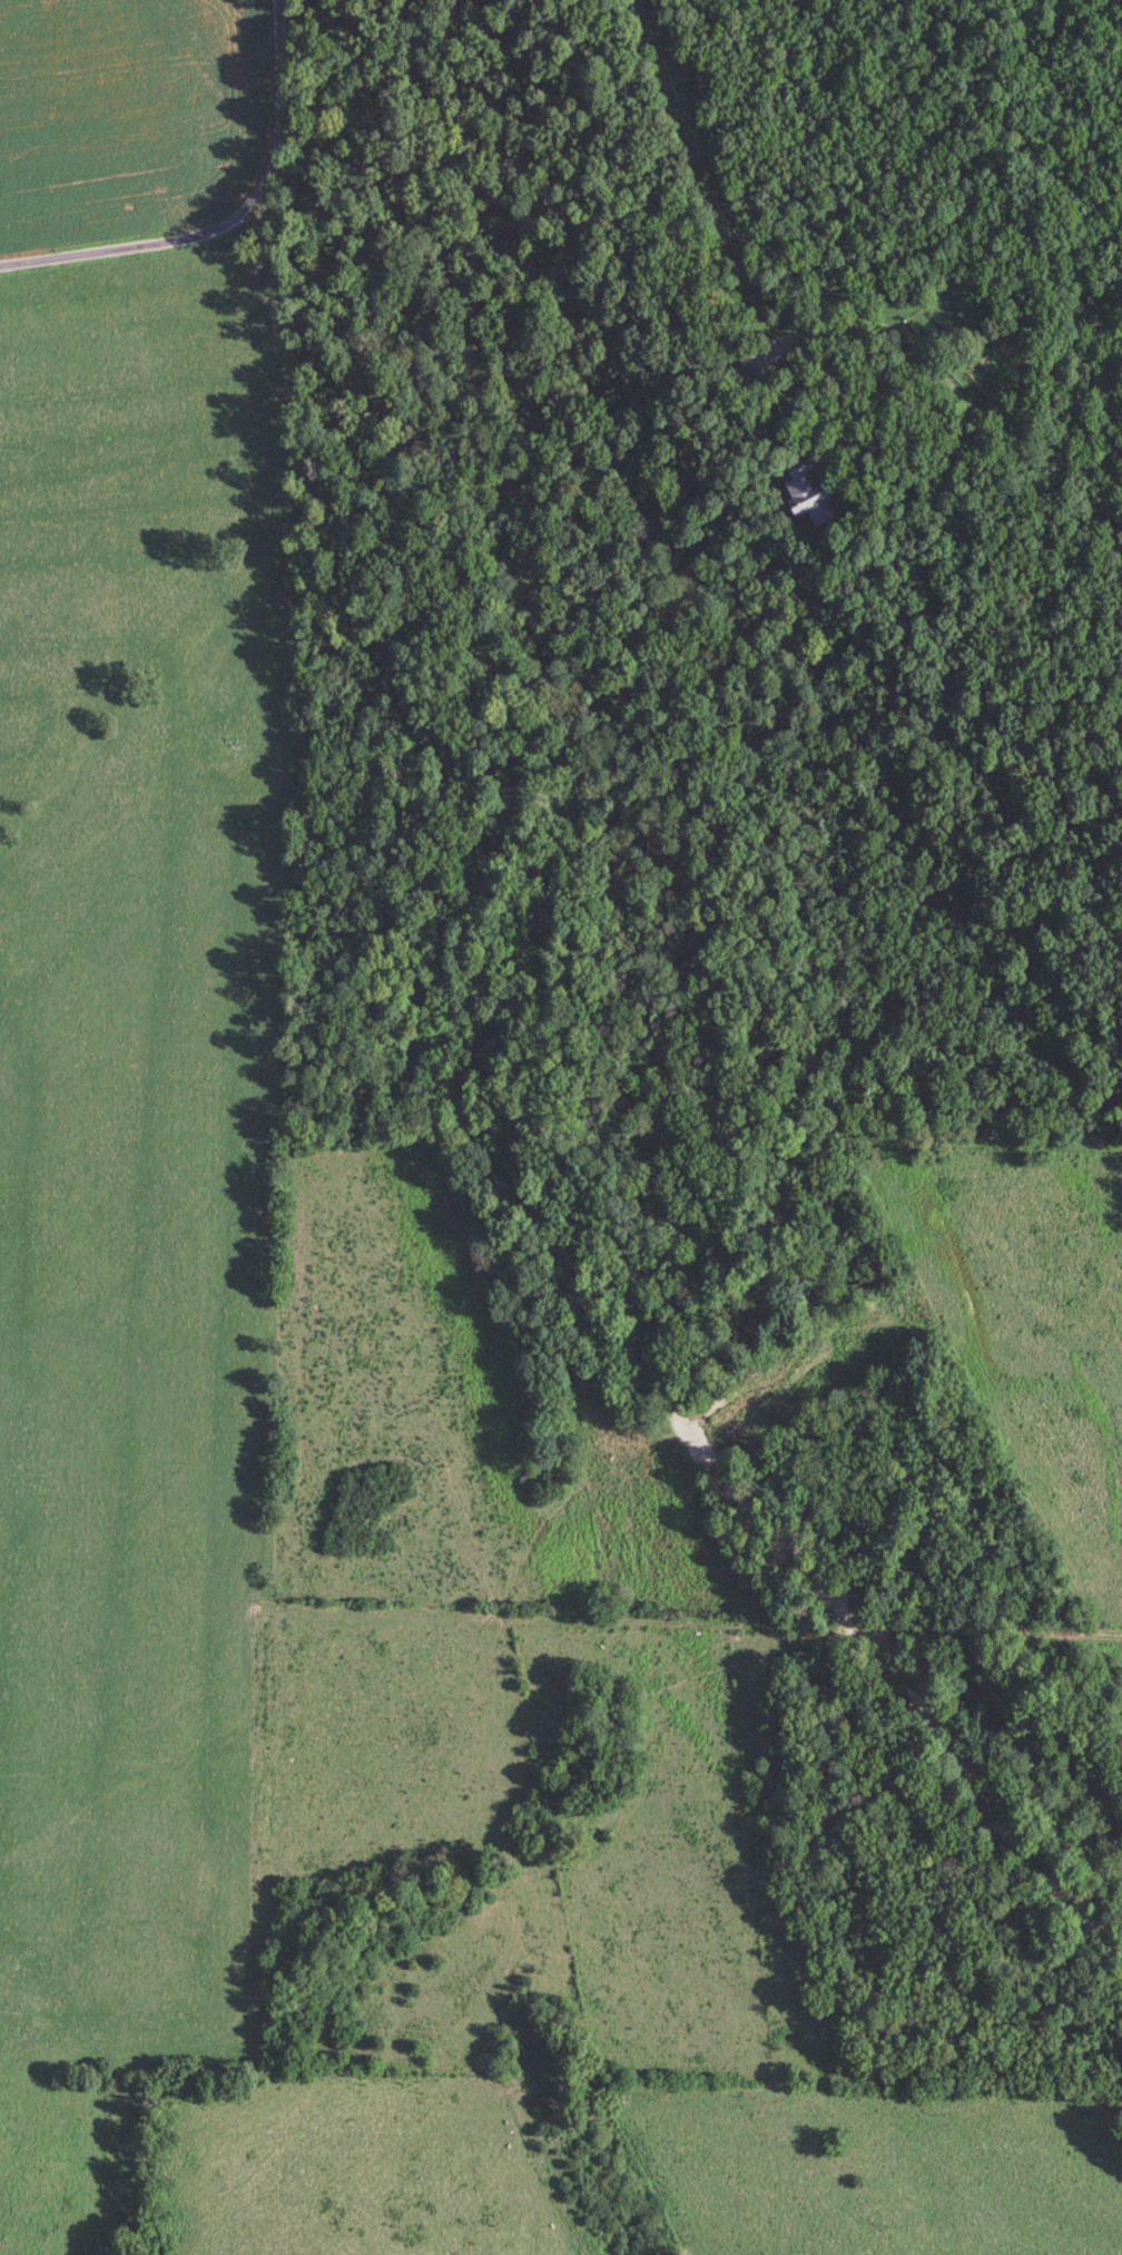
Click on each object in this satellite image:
road: (691, 214)
road: (235, 223)
building: (759, 365)
building: (814, 492)

